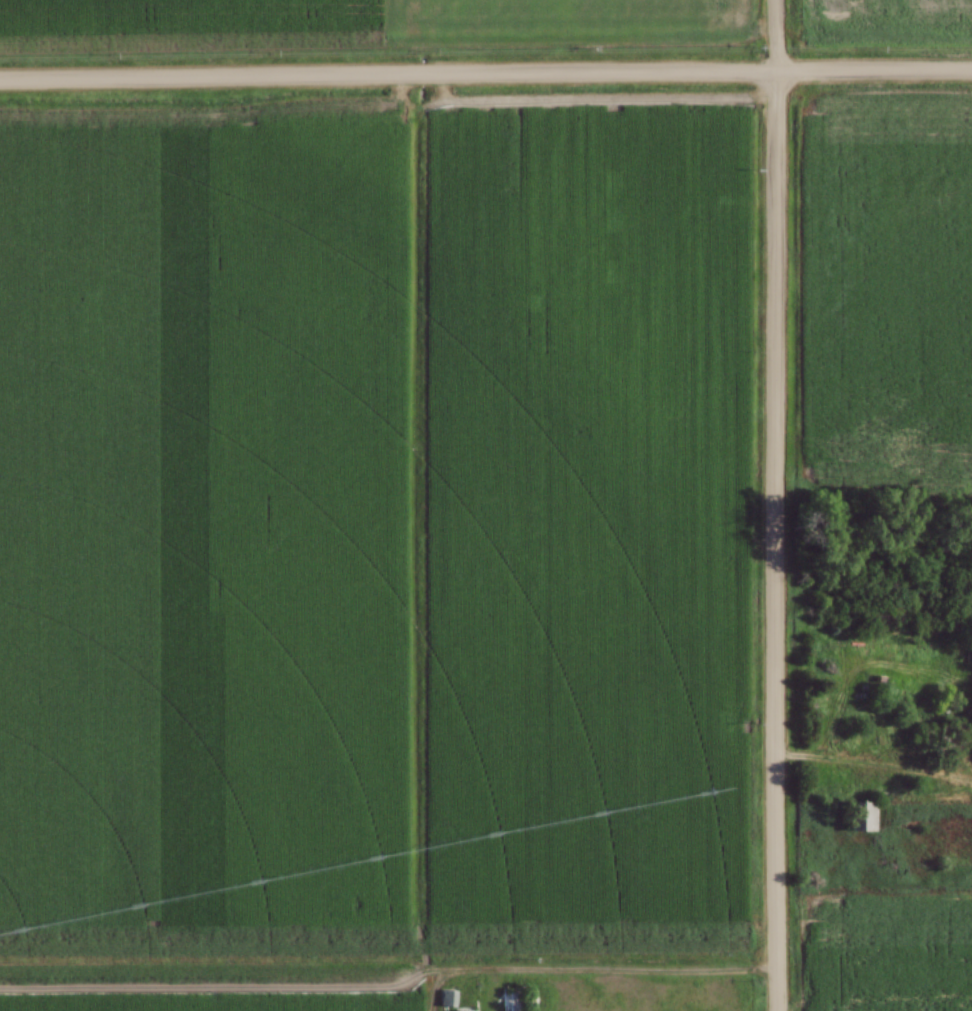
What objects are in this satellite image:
crop: (336, 20)
crop: (886, 20)
road: (485, 76)
crop: (889, 292)
road: (774, 505)
crop: (371, 545)
road: (873, 760)
building: (863, 816)
crop: (885, 950)
building: (446, 997)
building: (507, 1001)

